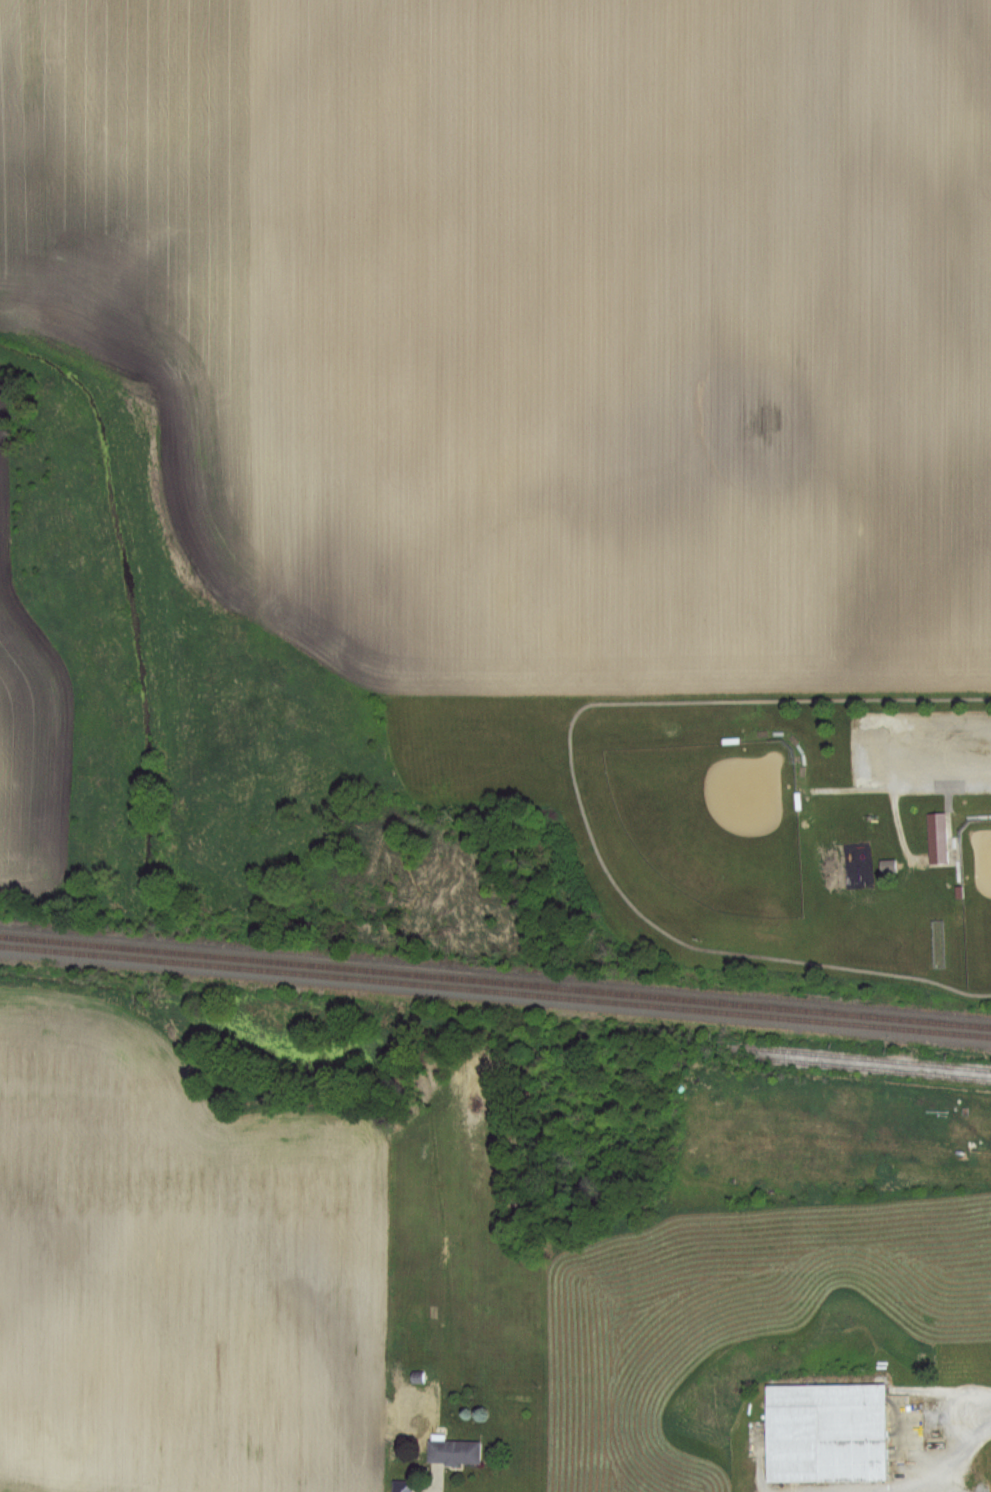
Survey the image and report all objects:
road: (875, 752)
parking lot: (919, 752)
road: (577, 794)
park: (712, 819)
park: (788, 827)
building: (936, 837)
building: (887, 866)
park: (977, 901)
railway: (495, 978)
railway: (495, 988)
railway: (866, 1054)
railway: (861, 1066)
road: (978, 1419)
building: (824, 1432)
building: (452, 1451)
road: (429, 1478)
building: (400, 1486)

